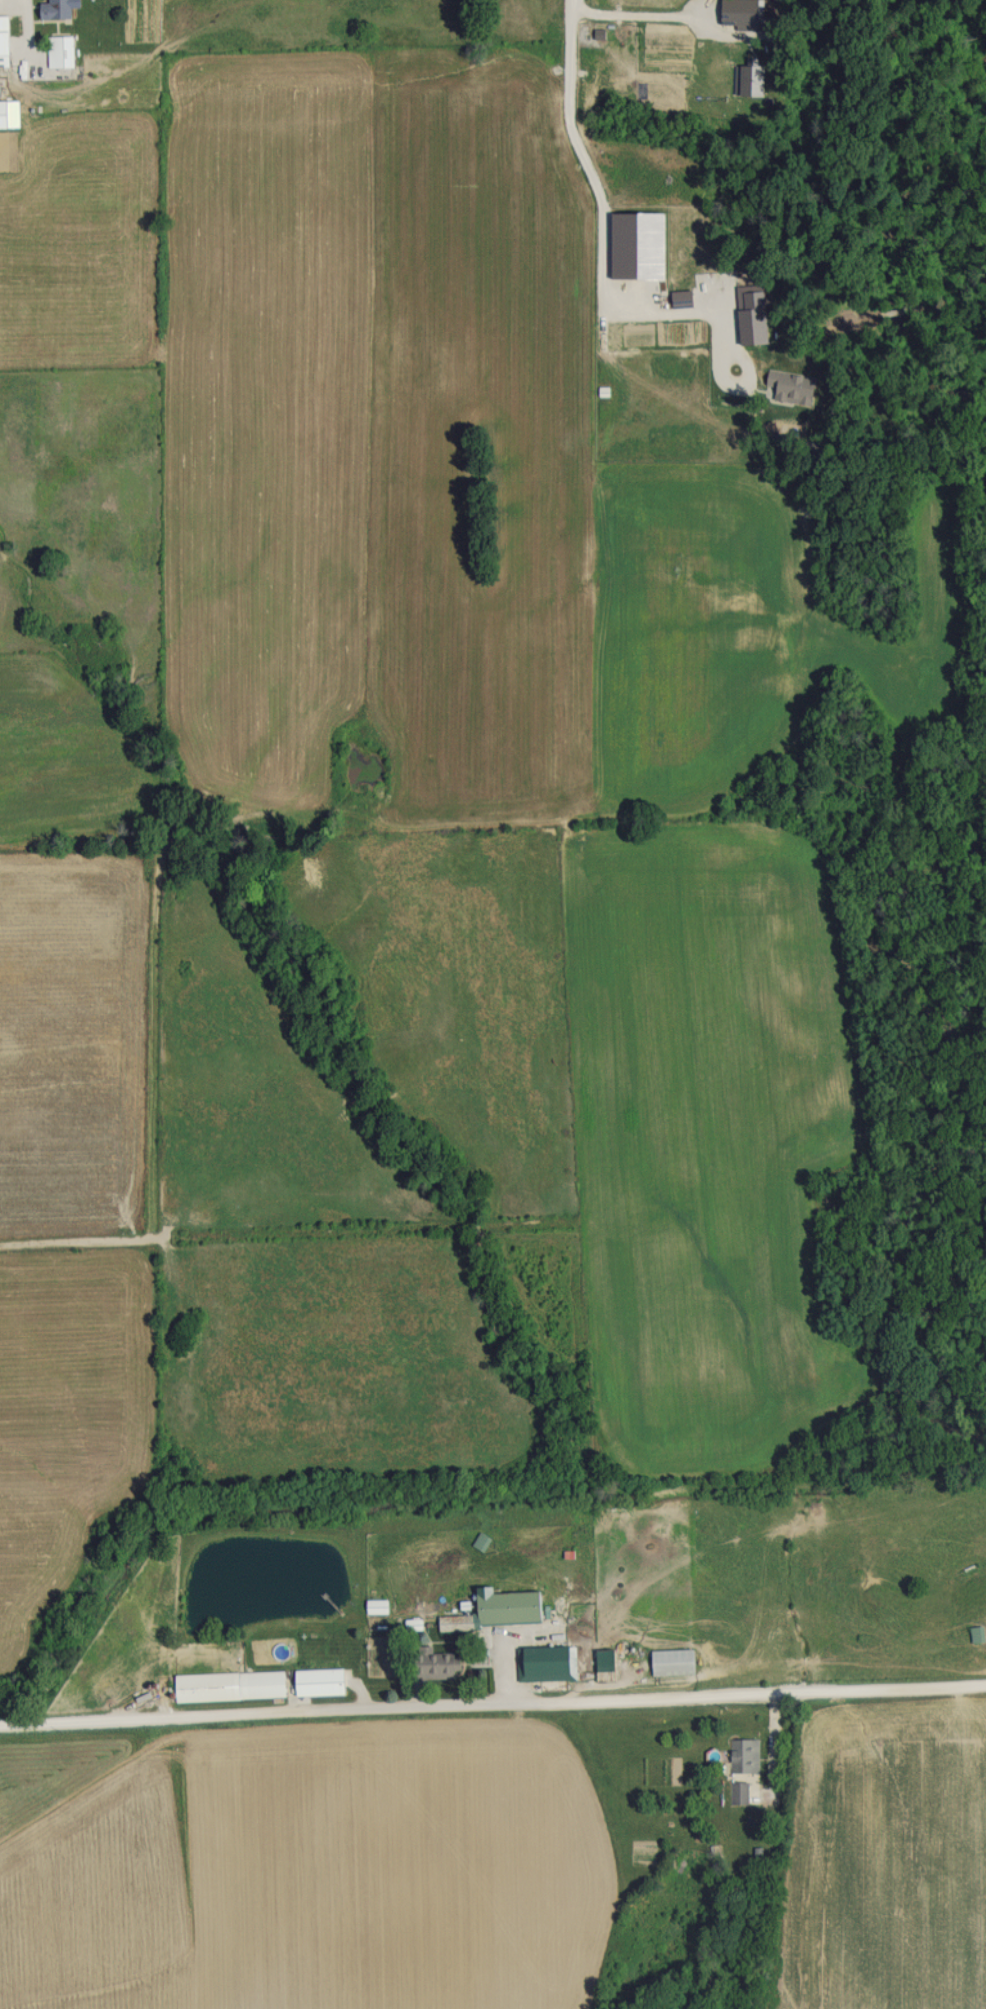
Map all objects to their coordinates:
building: (52, 9)
building: (2, 36)
building: (57, 52)
road: (605, 207)
building: (488, 1526)
building: (496, 1610)
building: (974, 1634)
building: (666, 1661)
building: (430, 1663)
building: (542, 1665)
building: (601, 1666)
building: (315, 1682)
building: (225, 1686)
road: (492, 1702)
building: (742, 1755)
building: (739, 1792)

